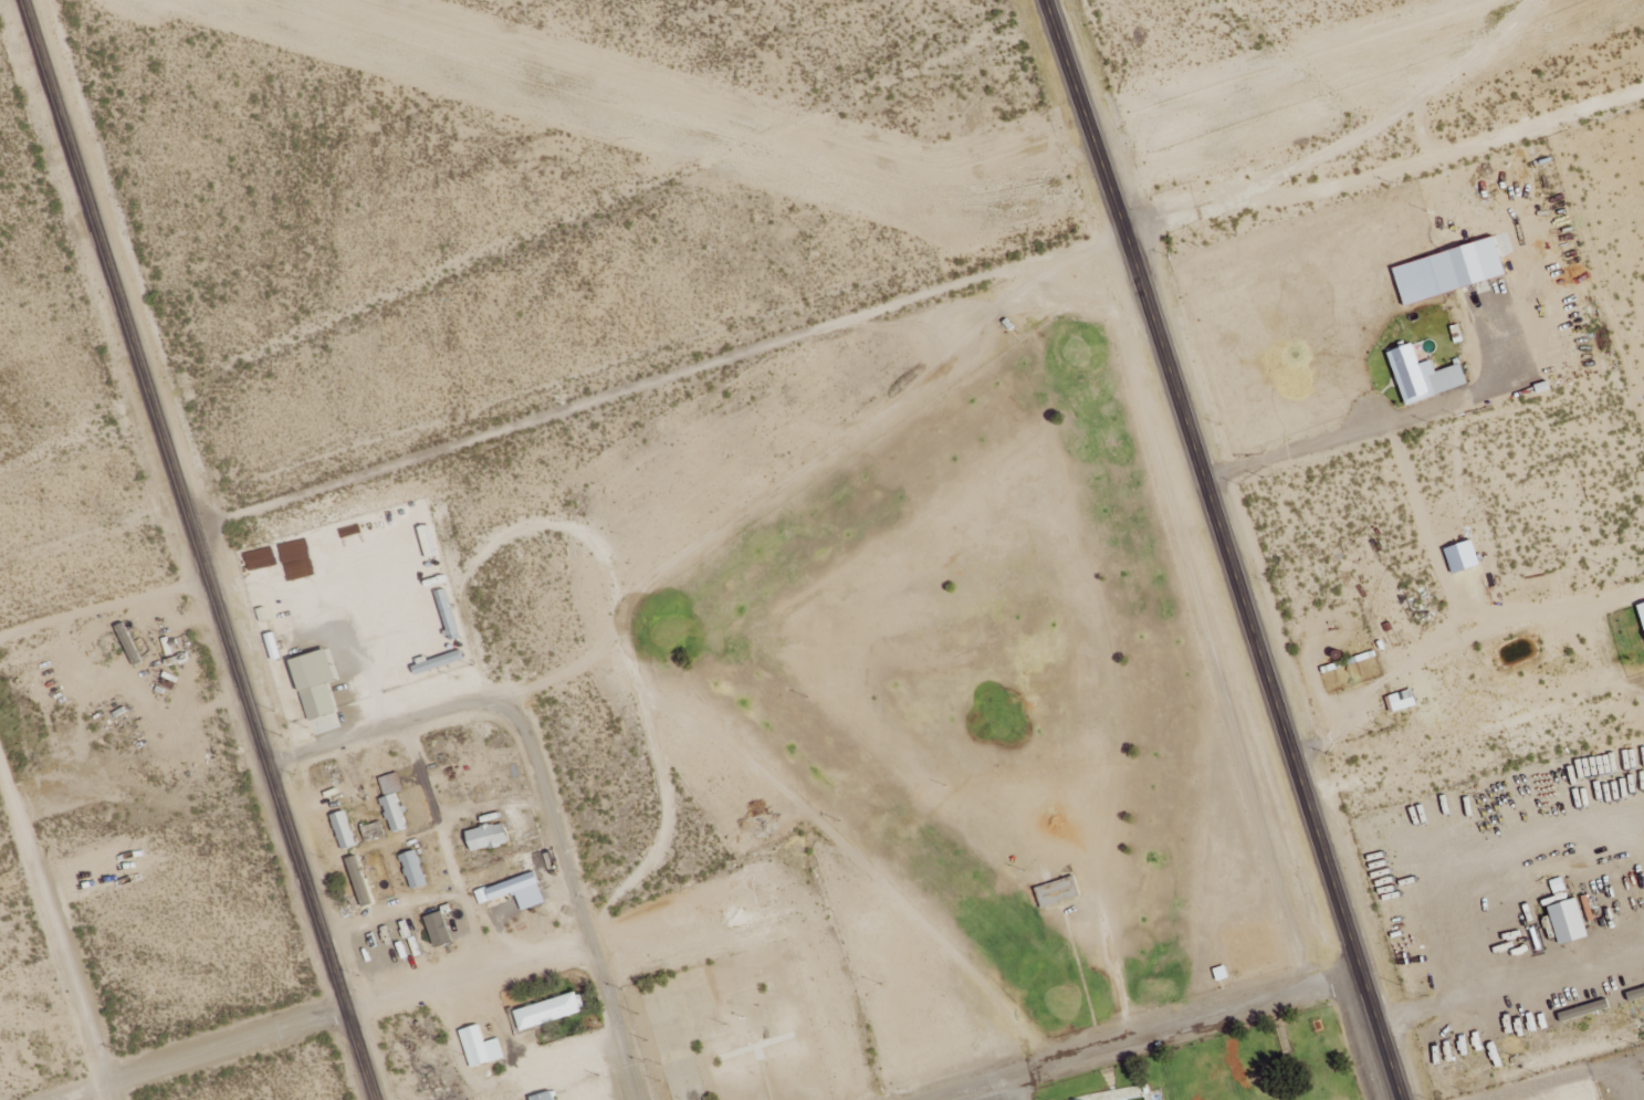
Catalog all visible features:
road: (1085, 114)
road: (1515, 122)
road: (107, 264)
building: (1451, 271)
road: (891, 305)
building: (1425, 376)
building: (1463, 556)
road: (102, 605)
building: (1642, 610)
building: (448, 615)
building: (437, 661)
road: (1260, 664)
building: (315, 683)
building: (1402, 701)
road: (384, 730)
road: (541, 810)
road: (282, 814)
building: (394, 814)
building: (344, 830)
building: (489, 837)
road: (443, 848)
building: (413, 870)
building: (359, 881)
building: (507, 888)
building: (1059, 892)
building: (1570, 922)
road: (55, 929)
building: (438, 929)
road: (426, 989)
building: (1636, 995)
building: (551, 1012)
road: (1143, 1038)
road: (1352, 1039)
building: (480, 1047)
road: (1009, 1090)
building: (544, 1097)

